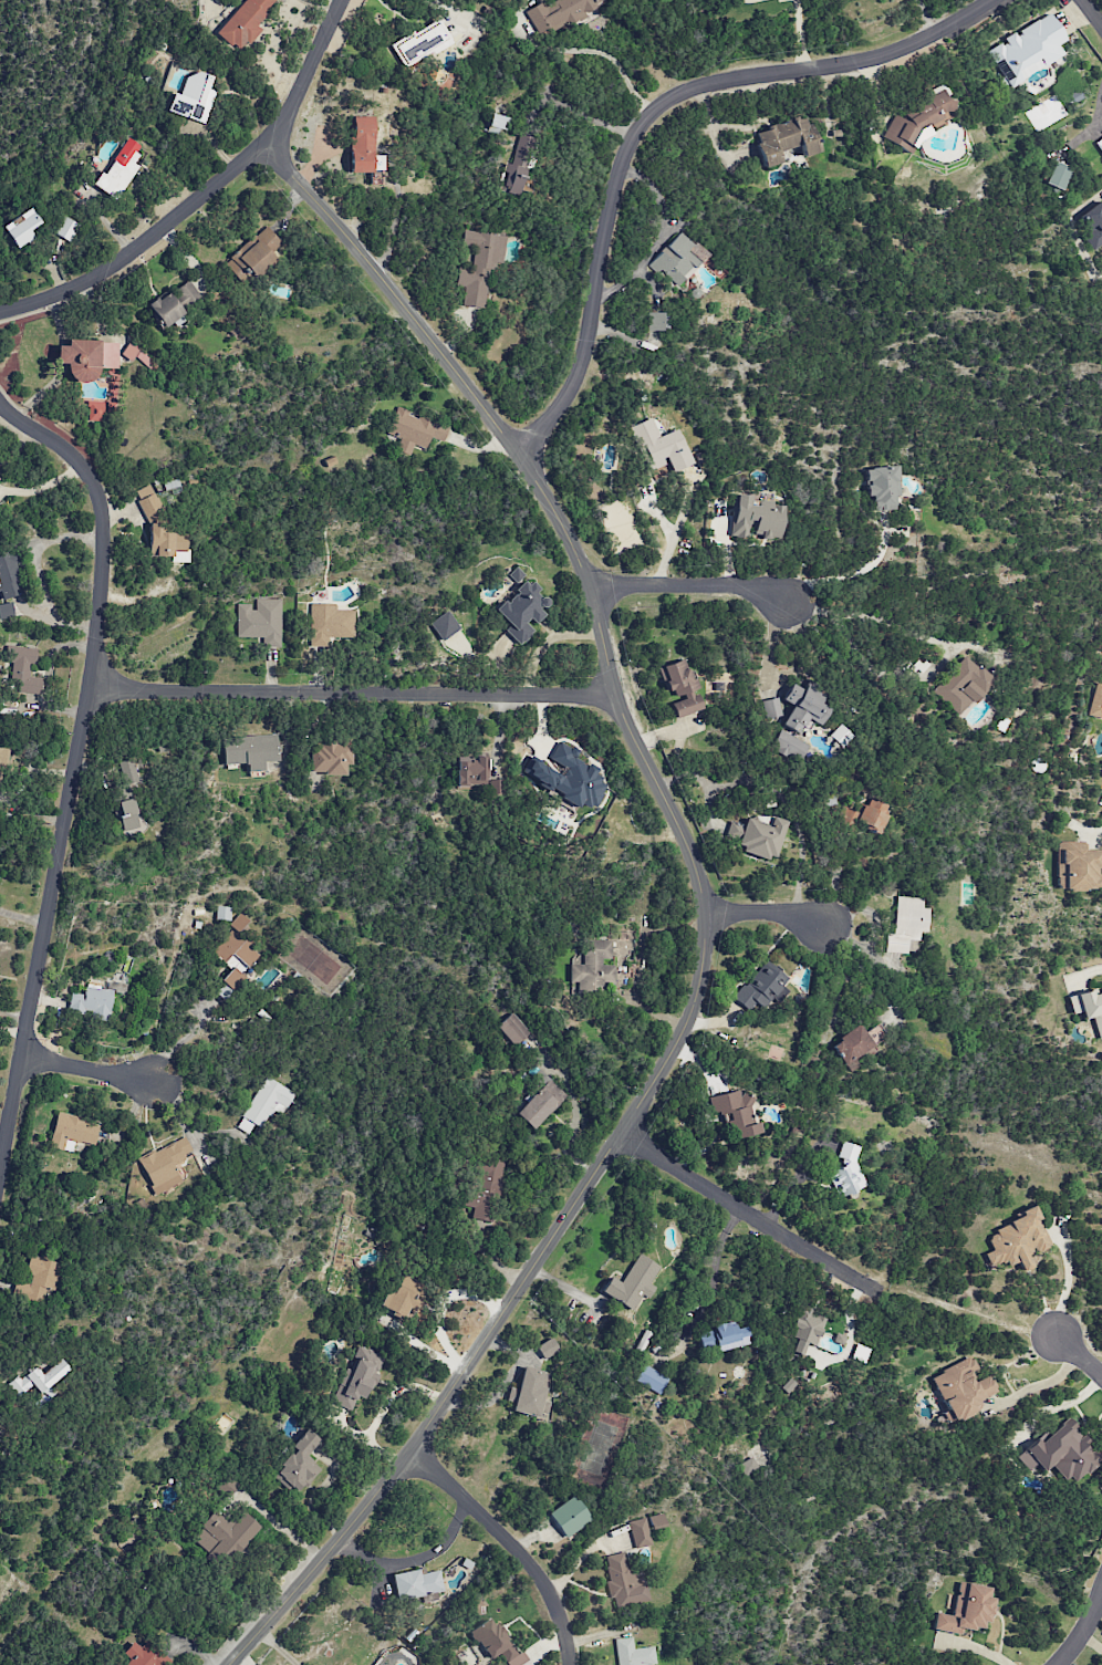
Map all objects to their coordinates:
road: (1093, 11)
building: (561, 12)
road: (926, 17)
building: (243, 22)
building: (422, 42)
building: (1028, 50)
road: (596, 51)
building: (193, 97)
road: (648, 118)
building: (498, 123)
building: (917, 124)
building: (784, 139)
building: (1100, 143)
building: (363, 148)
building: (516, 168)
building: (118, 170)
building: (1058, 175)
road: (204, 189)
building: (21, 228)
building: (65, 228)
building: (252, 257)
building: (678, 259)
building: (479, 266)
building: (173, 303)
building: (655, 321)
building: (136, 353)
building: (86, 357)
building: (98, 409)
building: (658, 424)
building: (414, 430)
building: (659, 447)
building: (882, 487)
building: (148, 501)
building: (756, 518)
road: (669, 535)
building: (166, 543)
road: (35, 570)
building: (10, 576)
road: (852, 576)
road: (688, 586)
building: (521, 608)
building: (7, 611)
building: (260, 621)
building: (329, 623)
building: (445, 625)
road: (943, 643)
building: (24, 672)
building: (961, 685)
building: (682, 688)
road: (354, 694)
building: (1096, 701)
building: (771, 707)
building: (802, 707)
building: (789, 745)
building: (250, 750)
building: (331, 757)
building: (1, 759)
road: (76, 769)
building: (476, 776)
building: (568, 777)
building: (126, 814)
building: (865, 816)
road: (1096, 833)
building: (756, 836)
building: (1077, 866)
road: (706, 913)
road: (765, 915)
building: (906, 925)
building: (236, 951)
building: (592, 970)
road: (1087, 971)
building: (761, 986)
building: (91, 1002)
building: (1088, 1006)
building: (512, 1029)
road: (178, 1041)
building: (851, 1047)
road: (93, 1064)
building: (540, 1102)
building: (264, 1104)
building: (736, 1113)
road: (179, 1114)
building: (72, 1132)
building: (166, 1165)
building: (848, 1174)
building: (486, 1188)
road: (749, 1218)
building: (1017, 1240)
building: (633, 1282)
road: (1069, 1282)
building: (399, 1297)
building: (804, 1330)
building: (722, 1336)
building: (547, 1347)
building: (860, 1353)
road: (1080, 1356)
building: (356, 1377)
building: (651, 1378)
building: (41, 1381)
road: (1035, 1385)
building: (961, 1388)
building: (530, 1393)
building: (1, 1415)
building: (1060, 1453)
building: (299, 1464)
building: (748, 1466)
building: (226, 1485)
building: (0, 1508)
building: (570, 1516)
building: (656, 1520)
building: (640, 1532)
building: (225, 1534)
road: (507, 1546)
building: (623, 1582)
building: (416, 1583)
building: (966, 1610)
road: (1083, 1627)
building: (492, 1640)
road: (277, 1647)
building: (633, 1653)
building: (144, 1654)

